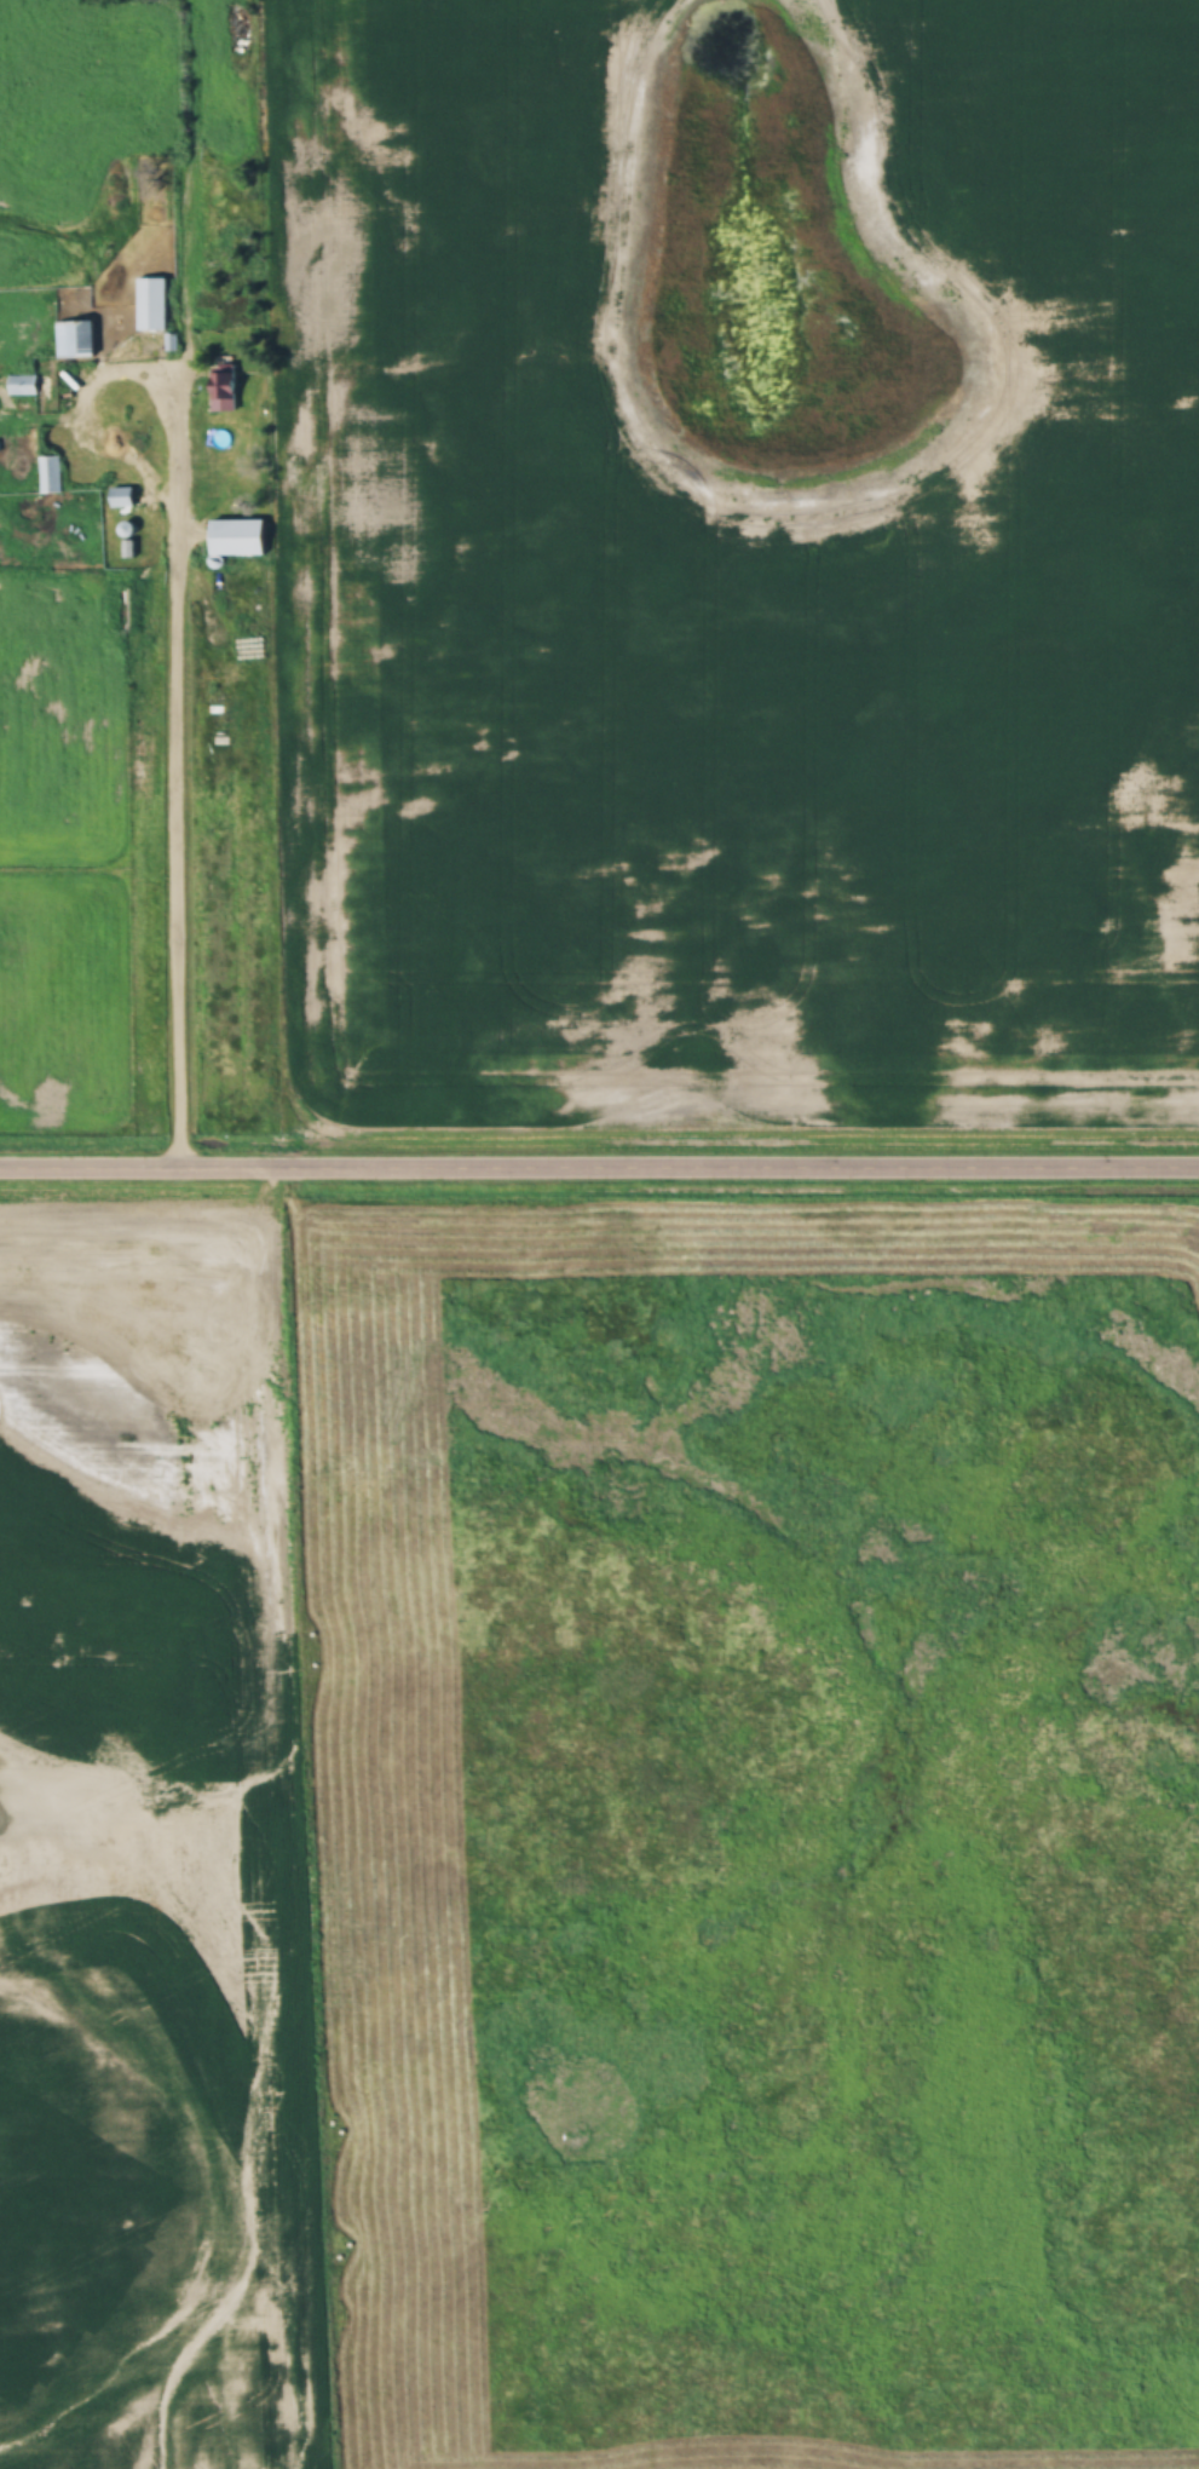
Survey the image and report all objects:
building: (71, 339)
building: (22, 386)
building: (225, 390)
building: (48, 474)
building: (122, 497)
building: (238, 537)
road: (179, 664)
road: (599, 1176)

